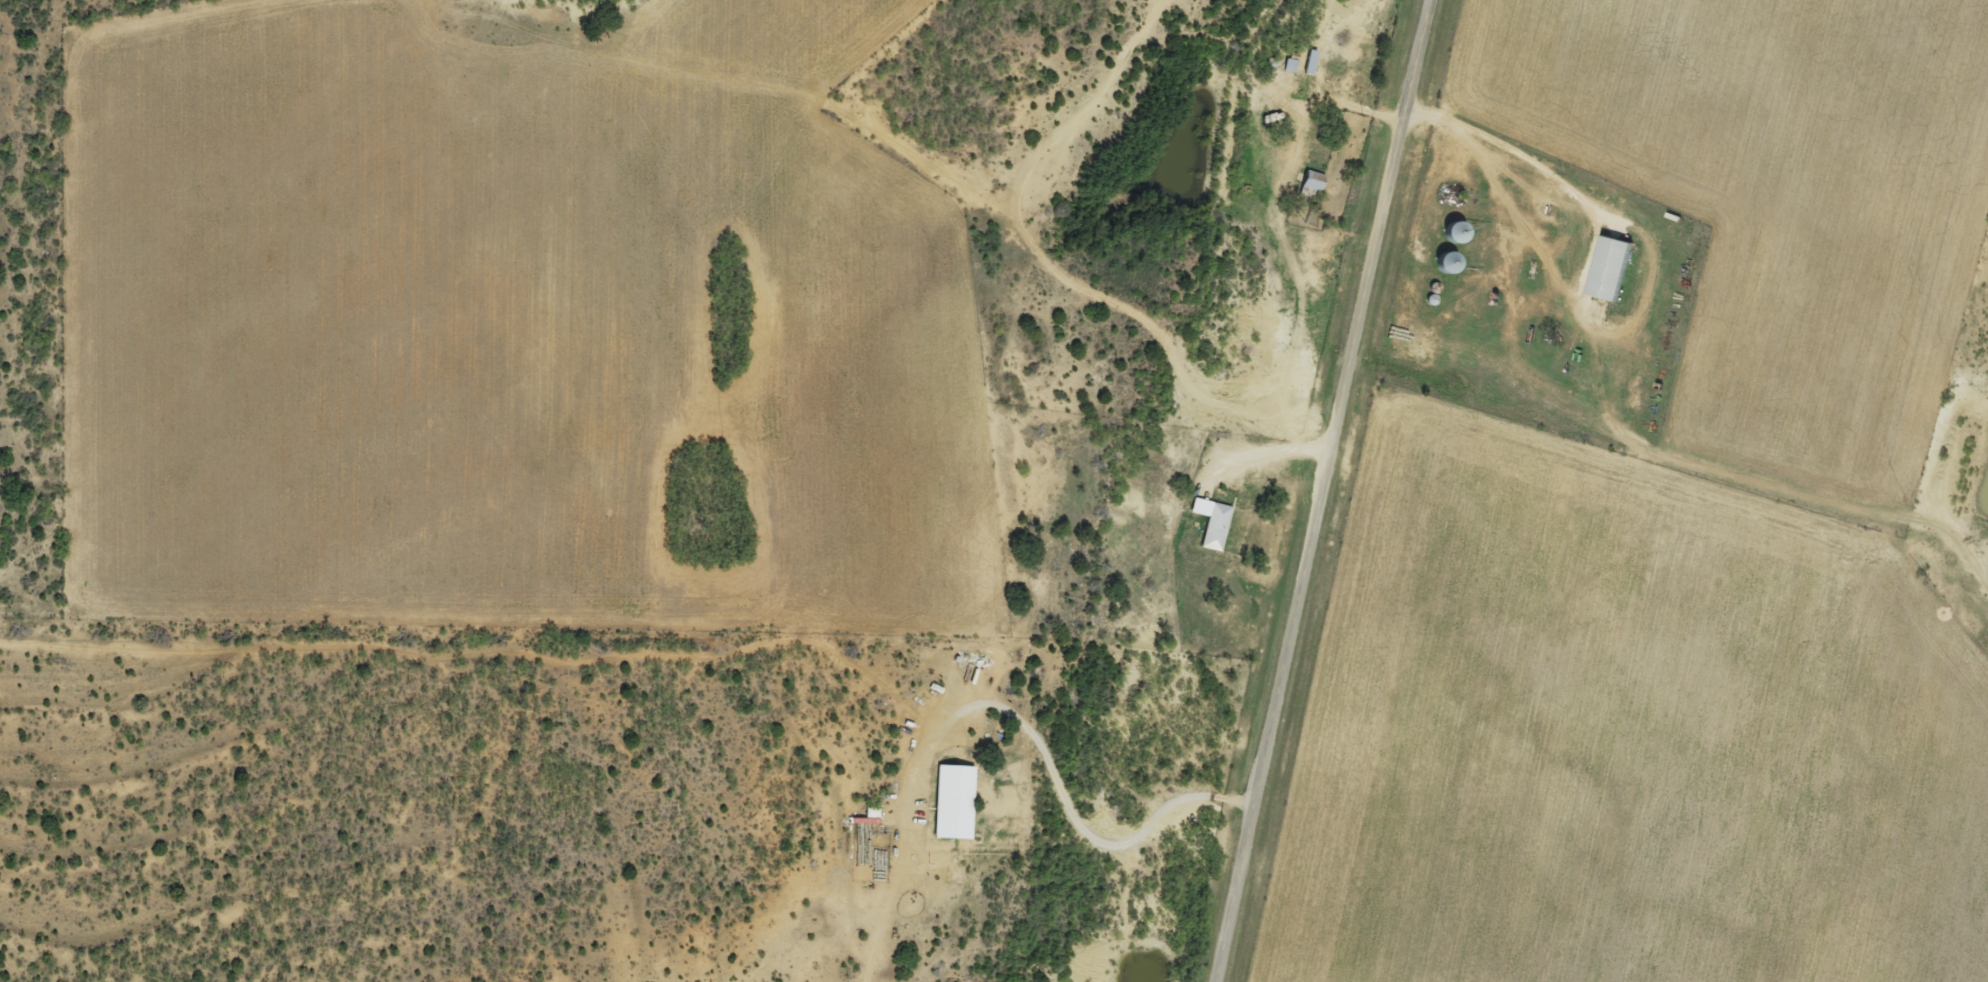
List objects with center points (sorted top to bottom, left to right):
building: (1310, 63)
building: (1309, 186)
building: (1452, 233)
building: (1444, 265)
building: (1607, 270)
road: (1323, 490)
building: (1211, 524)
building: (952, 803)

